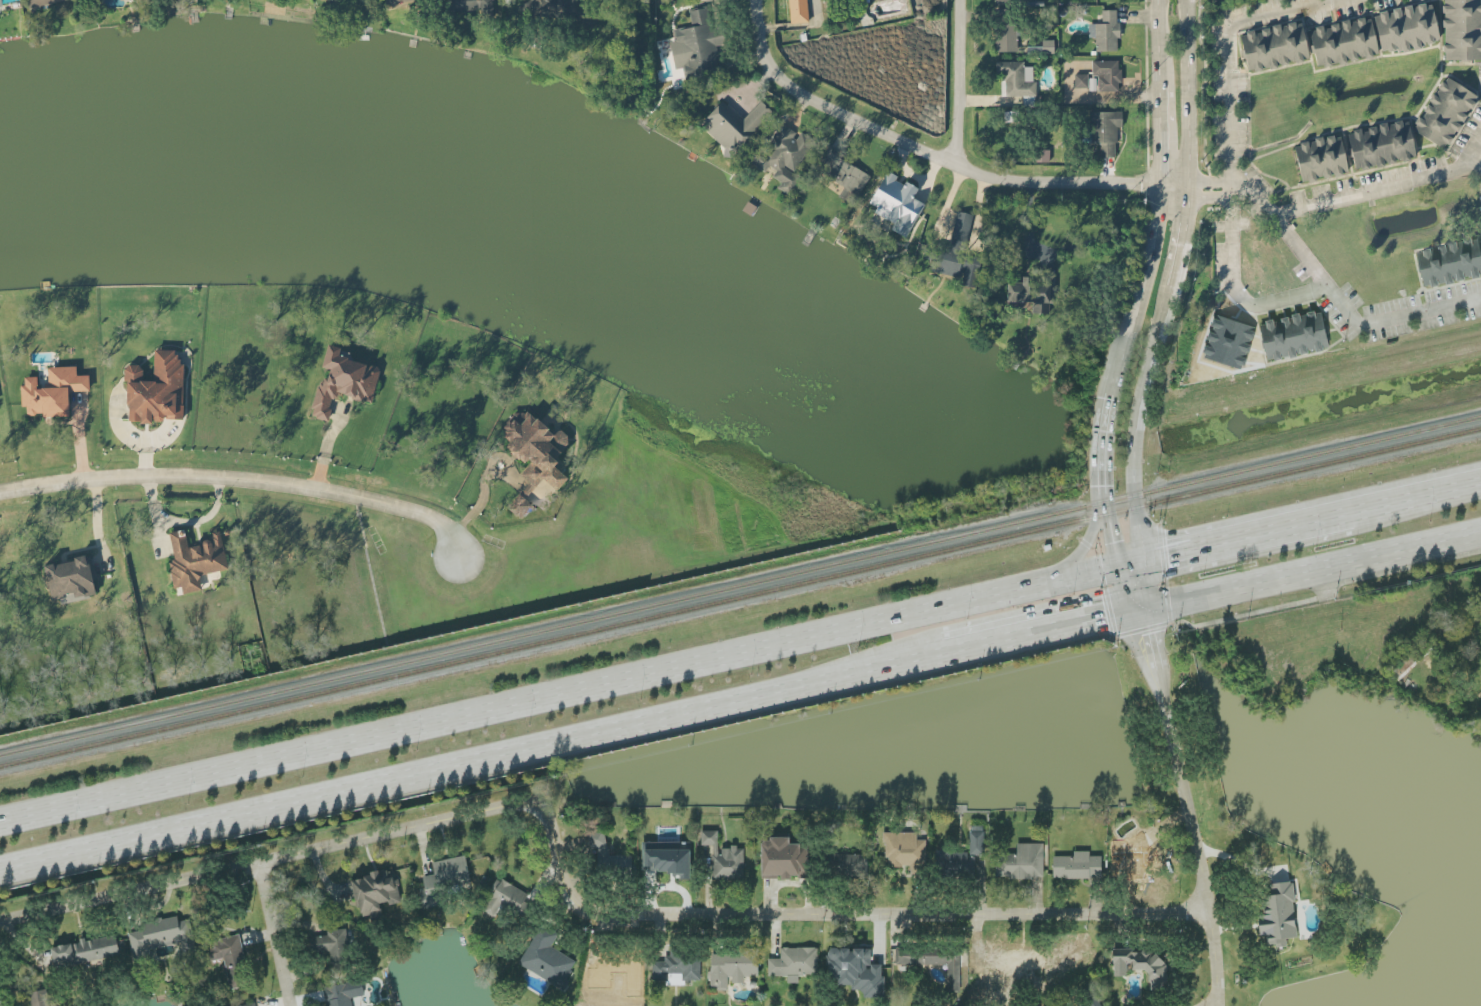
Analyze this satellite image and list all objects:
building: (1009, 0)
building: (6, 1)
building: (38, 1)
building: (469, 5)
building: (565, 9)
building: (798, 10)
building: (1405, 26)
building: (1461, 29)
building: (1004, 30)
building: (1105, 30)
building: (1342, 40)
road: (1156, 41)
building: (695, 44)
building: (1273, 44)
building: (1047, 45)
road: (1229, 52)
building: (1106, 73)
building: (1016, 78)
building: (1080, 79)
road: (956, 83)
road: (1185, 92)
building: (1444, 111)
building: (734, 123)
building: (1104, 130)
road: (1158, 134)
building: (1381, 143)
road: (920, 151)
building: (783, 154)
building: (1039, 154)
building: (1320, 157)
building: (841, 172)
road: (1173, 185)
road: (1209, 185)
road: (1378, 187)
building: (896, 202)
road: (1284, 225)
road: (1180, 235)
road: (1061, 245)
building: (954, 252)
building: (1450, 263)
road: (1145, 272)
road: (1238, 285)
building: (1033, 289)
road: (1392, 317)
building: (1295, 336)
building: (1230, 343)
building: (343, 379)
building: (156, 388)
building: (52, 390)
road: (1102, 436)
road: (1134, 447)
building: (535, 460)
road: (245, 481)
road: (480, 498)
road: (1416, 500)
road: (182, 521)
road: (96, 522)
road: (1247, 539)
road: (1080, 552)
building: (194, 559)
traffic signals: (1143, 563)
road: (1118, 565)
traffic signals: (1119, 568)
road: (1309, 573)
building: (70, 576)
railway: (740, 588)
road: (1327, 595)
railway: (740, 599)
traffic signals: (1138, 613)
road: (1143, 630)
road: (1043, 634)
building: (1411, 659)
road: (571, 691)
road: (567, 758)
road: (474, 764)
road: (1185, 808)
building: (906, 852)
building: (669, 859)
building: (725, 859)
building: (783, 859)
building: (961, 859)
building: (1022, 863)
building: (845, 865)
building: (1076, 866)
building: (444, 881)
building: (377, 893)
road: (572, 897)
building: (506, 900)
building: (1280, 915)
road: (272, 936)
building: (162, 938)
building: (333, 949)
building: (86, 951)
building: (231, 959)
building: (548, 960)
building: (935, 961)
building: (1013, 962)
building: (795, 964)
building: (1143, 966)
building: (678, 968)
building: (733, 968)
building: (857, 972)
building: (344, 993)
building: (40, 999)
road: (1214, 1004)
building: (255, 1005)

